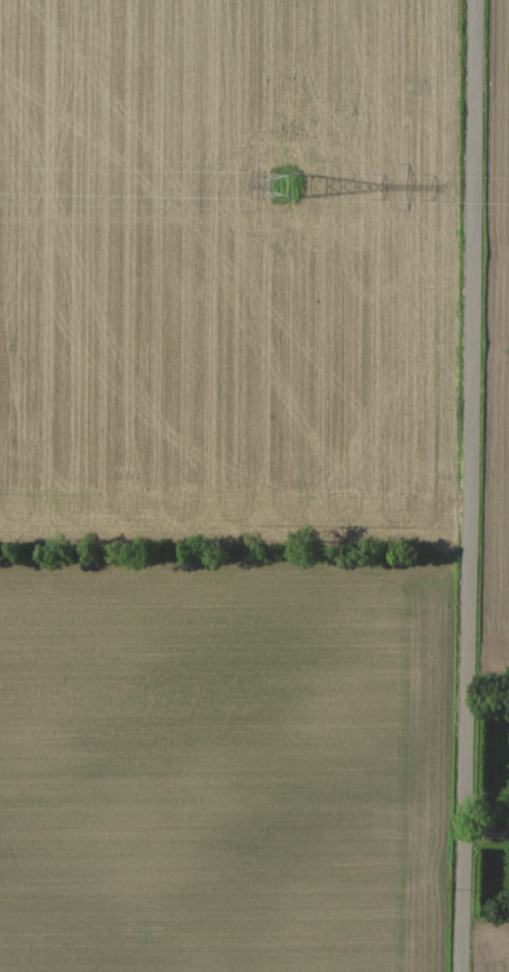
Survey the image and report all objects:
power tower: (288, 185)
road: (462, 485)
road: (483, 827)

